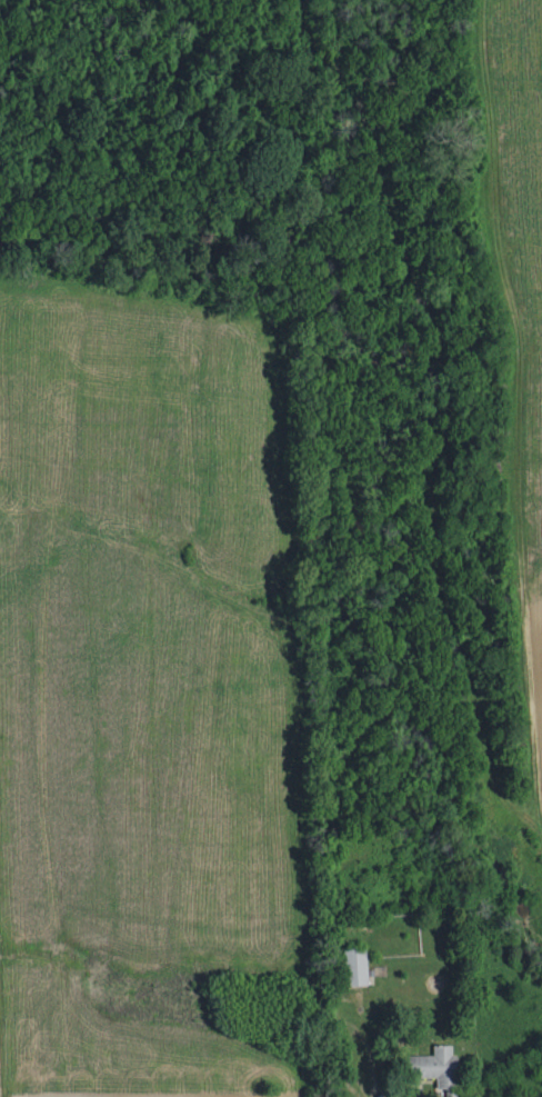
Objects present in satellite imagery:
building: (359, 967)
building: (439, 1067)
road: (413, 1094)

